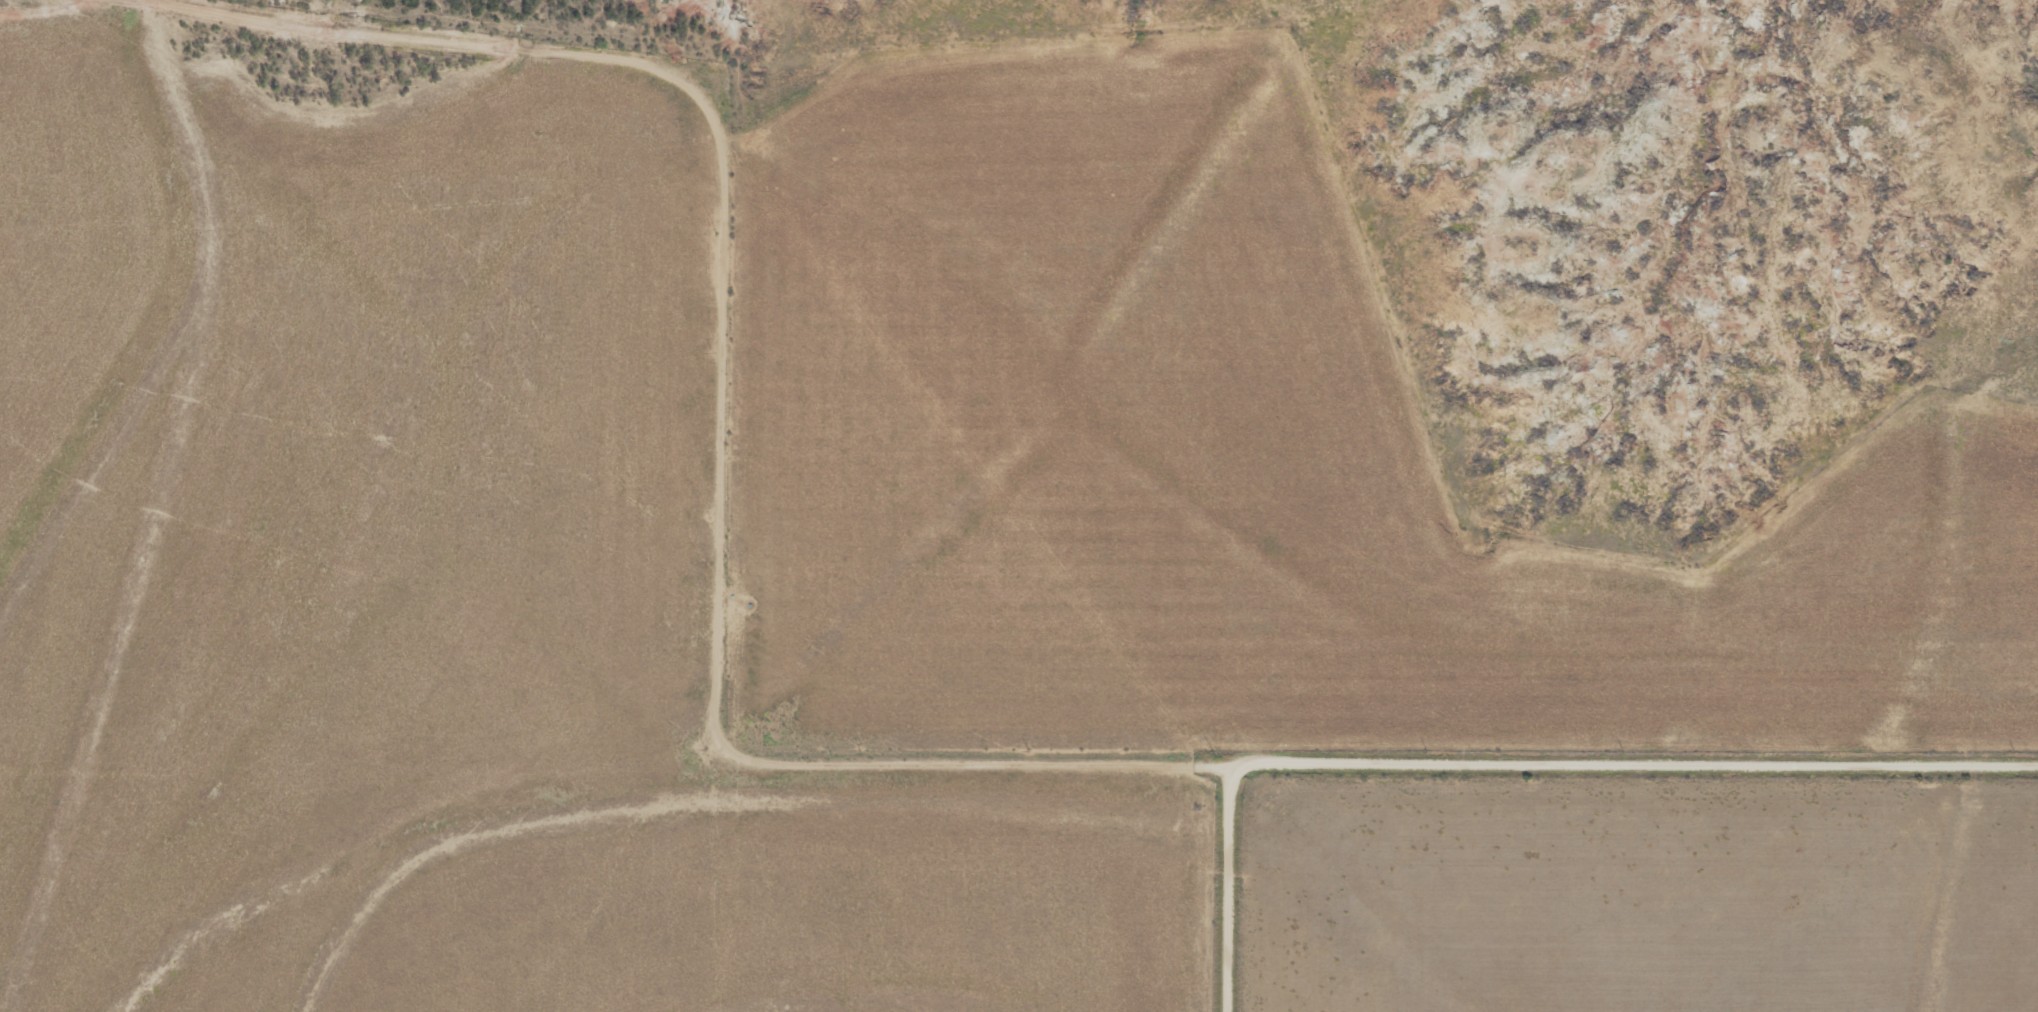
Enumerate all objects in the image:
road: (876, 751)
road: (1231, 886)

